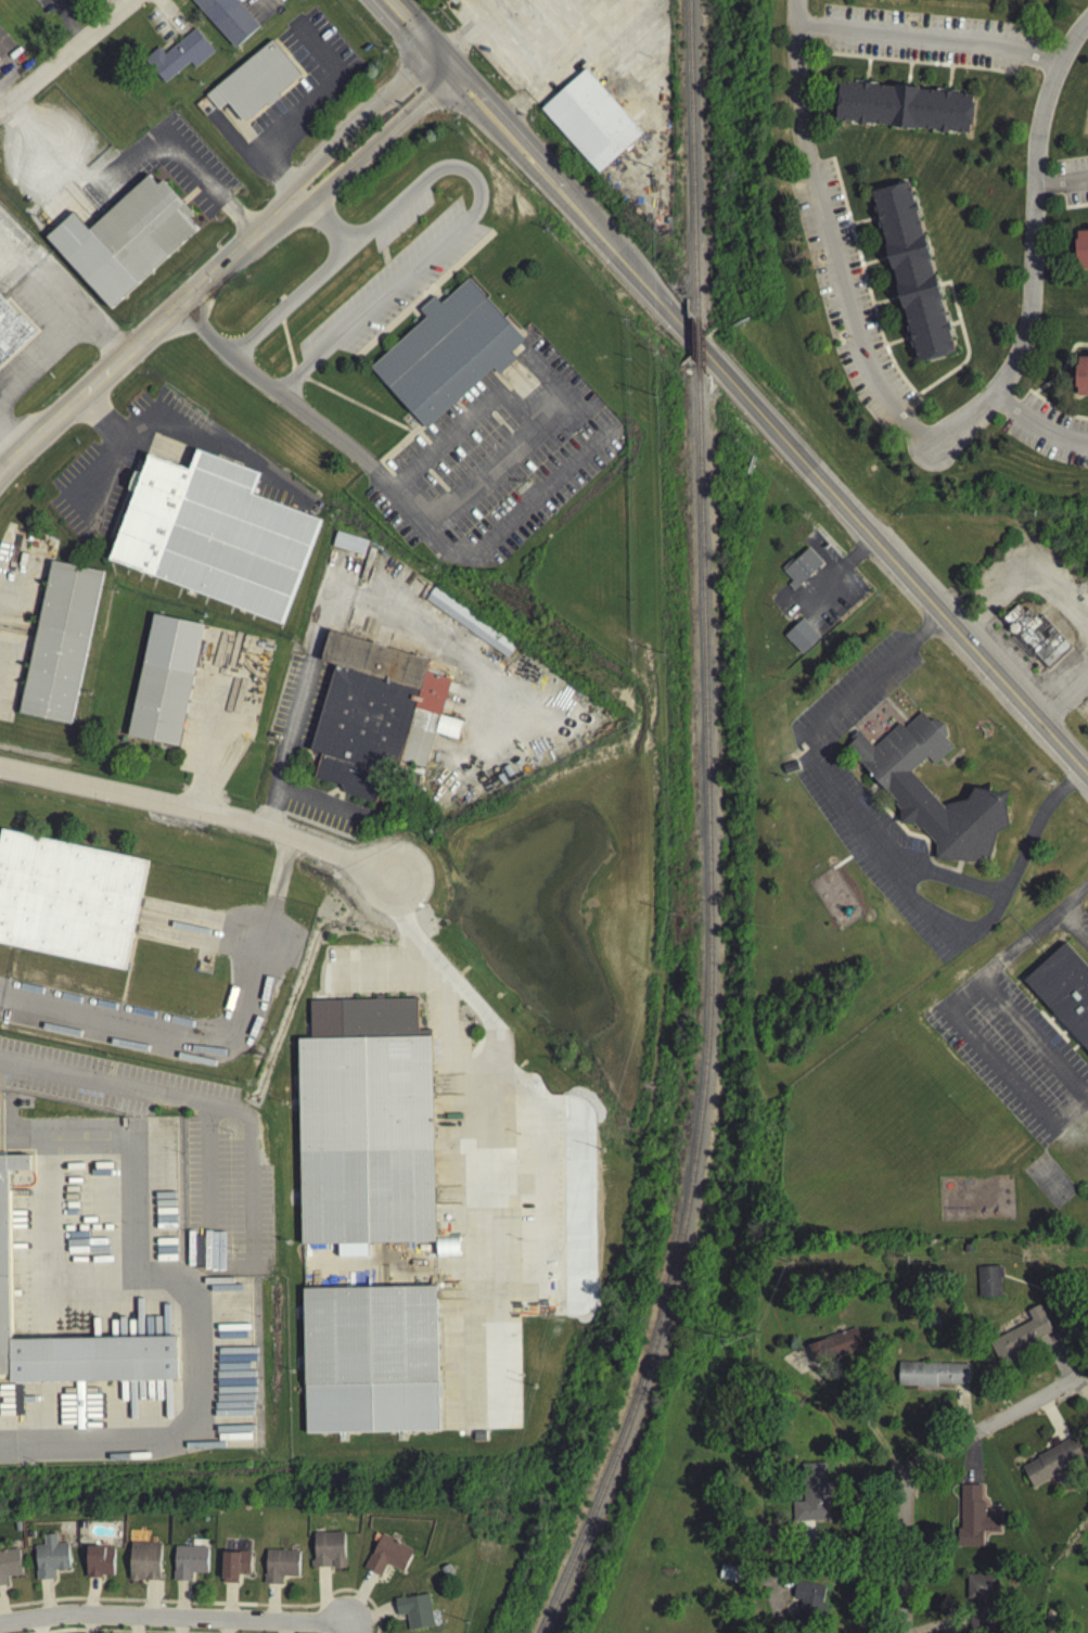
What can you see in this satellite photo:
building: (457, 0)
building: (598, 0)
building: (450, 1)
building: (226, 21)
road: (413, 31)
road: (929, 36)
building: (4, 48)
road: (72, 54)
building: (178, 60)
building: (253, 86)
building: (907, 110)
building: (590, 125)
road: (51, 148)
road: (182, 150)
railway: (694, 153)
parking lot: (167, 166)
road: (542, 174)
road: (1062, 180)
road: (469, 216)
road: (828, 235)
building: (128, 237)
building: (1083, 248)
road: (1035, 254)
road: (221, 266)
building: (914, 271)
parking lot: (395, 282)
road: (39, 286)
road: (298, 293)
building: (11, 336)
railway: (699, 343)
road: (102, 344)
building: (450, 349)
road: (40, 367)
building: (1083, 378)
road: (1038, 424)
road: (10, 444)
parking lot: (499, 458)
road: (398, 493)
road: (866, 528)
building: (217, 532)
building: (348, 547)
road: (1025, 570)
building: (801, 571)
building: (469, 626)
building: (63, 639)
building: (801, 640)
building: (1035, 640)
building: (167, 677)
road: (1063, 699)
parking lot: (223, 702)
building: (375, 718)
building: (896, 783)
road: (196, 807)
parking lot: (846, 813)
road: (868, 839)
road: (279, 862)
building: (69, 895)
road: (1067, 920)
building: (1063, 996)
railway: (707, 1020)
road: (185, 1028)
road: (953, 1032)
road: (1032, 1045)
parking lot: (1011, 1058)
road: (497, 1084)
road: (180, 1088)
building: (369, 1125)
parking lot: (481, 1178)
park: (1048, 1186)
building: (5, 1242)
building: (447, 1250)
building: (988, 1286)
road: (187, 1291)
building: (1022, 1339)
building: (835, 1350)
building: (372, 1356)
building: (933, 1377)
road: (861, 1413)
road: (930, 1465)
building: (1052, 1466)
building: (811, 1498)
building: (975, 1520)
building: (328, 1554)
building: (387, 1560)
building: (50, 1561)
building: (144, 1565)
building: (99, 1566)
building: (189, 1566)
building: (9, 1569)
building: (280, 1569)
building: (233, 1570)
building: (982, 1598)
road: (202, 1606)
building: (807, 1606)
road: (172, 1613)
building: (414, 1615)
road: (341, 1628)
road: (345, 1628)

